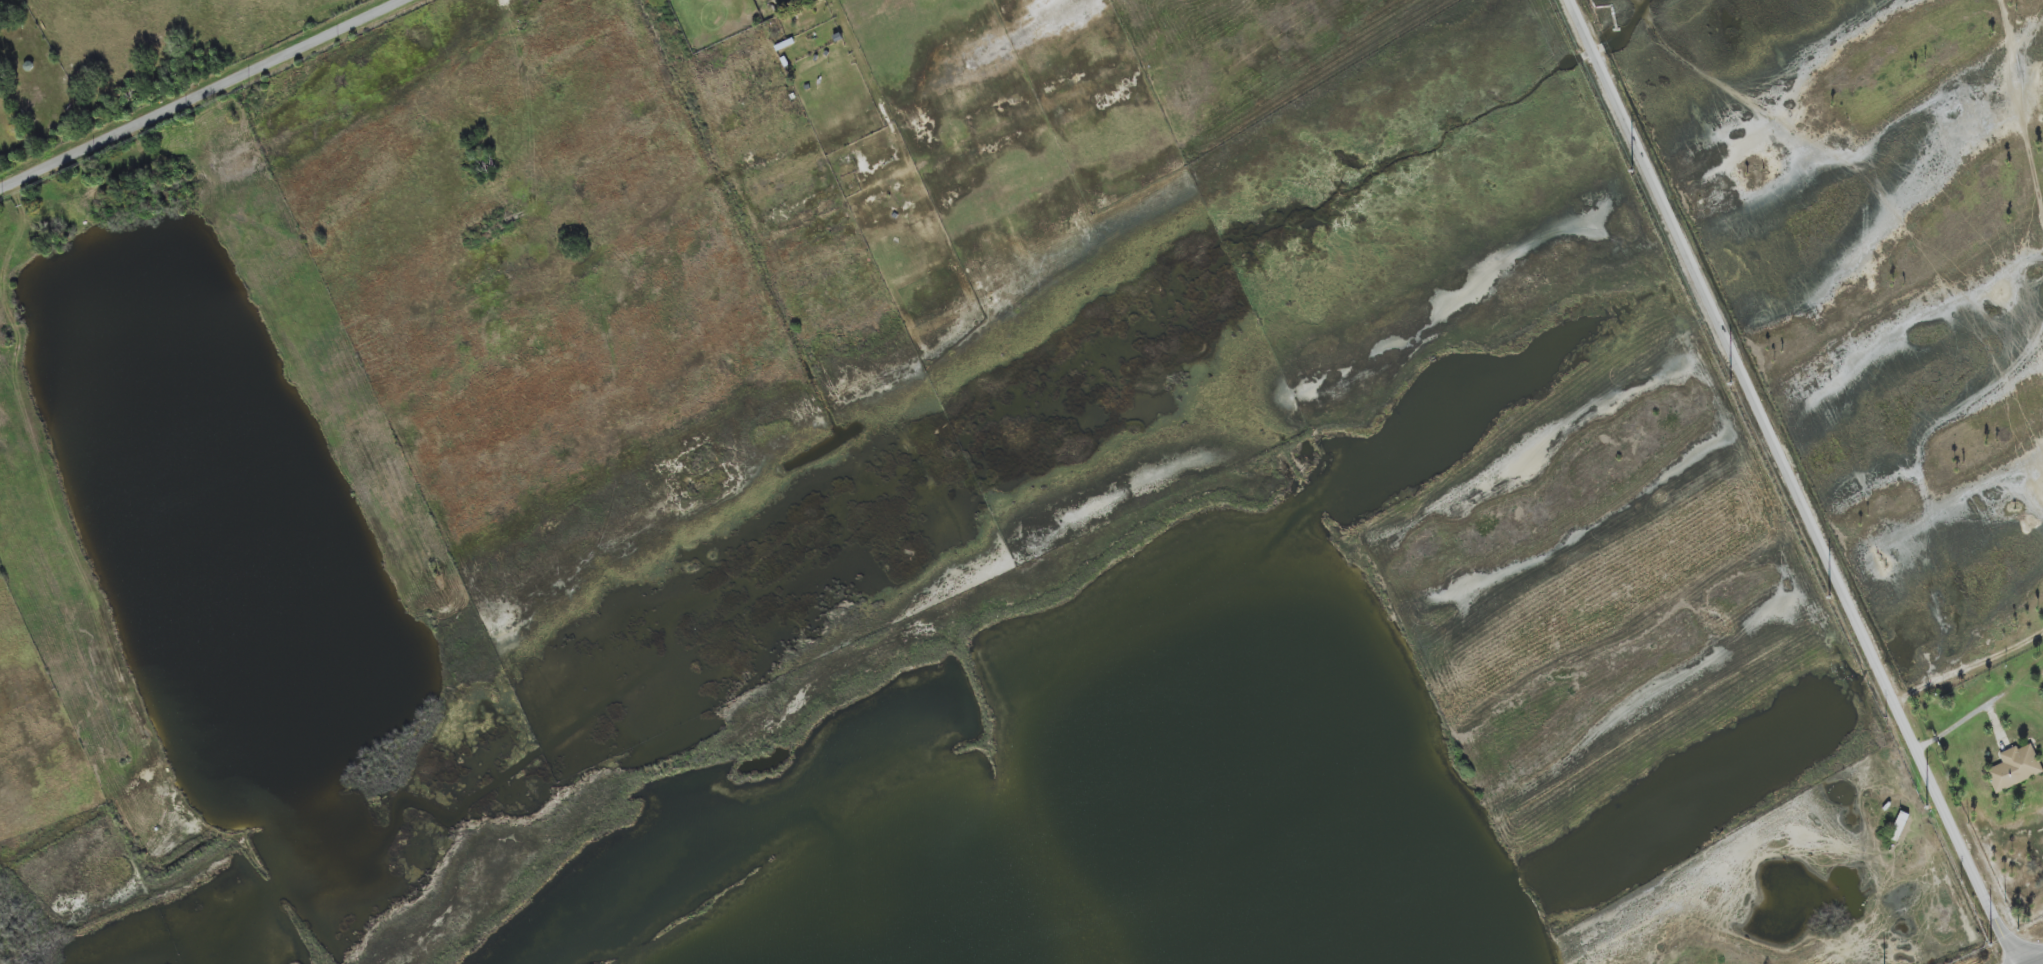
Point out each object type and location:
road: (202, 94)
road: (1793, 482)
building: (2015, 767)
road: (2037, 961)

